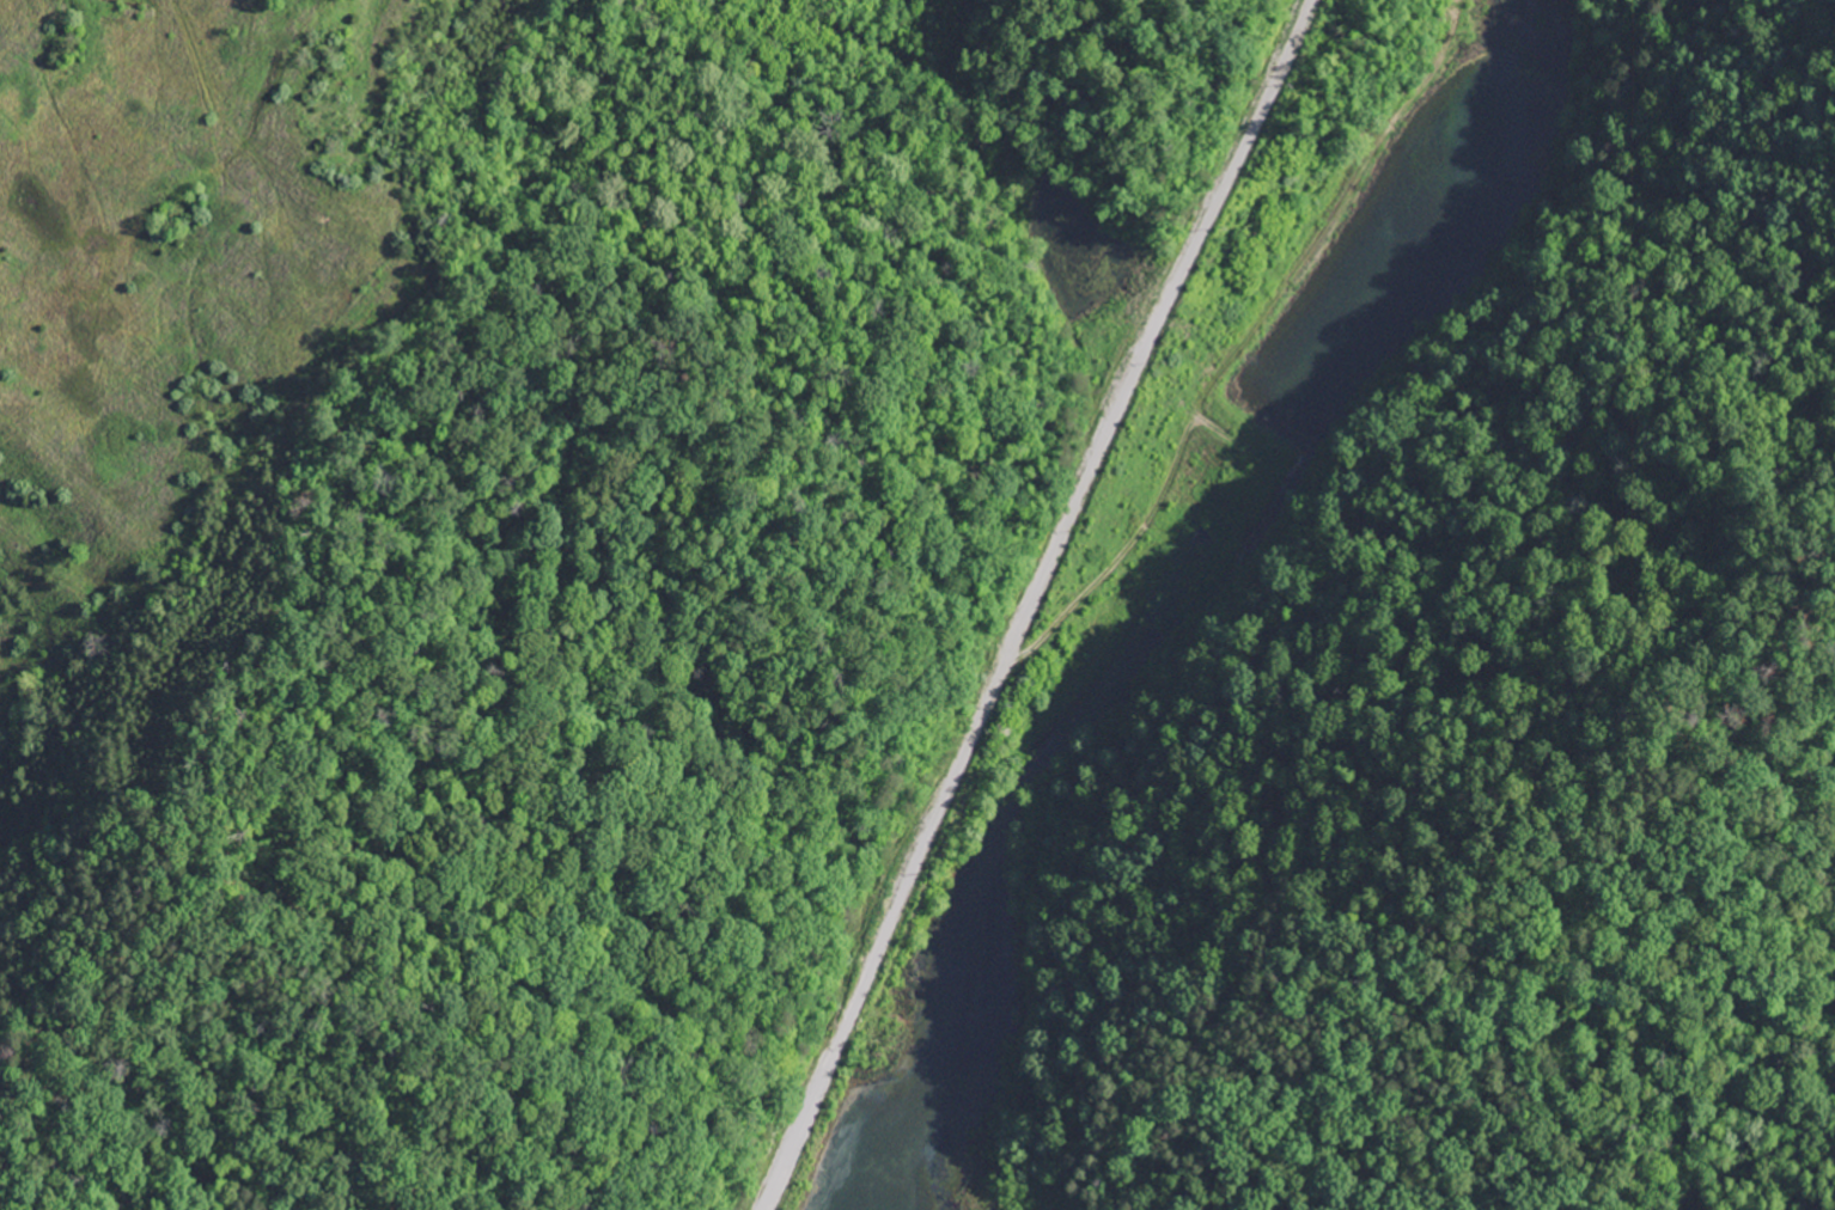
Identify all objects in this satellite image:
road: (1024, 618)

